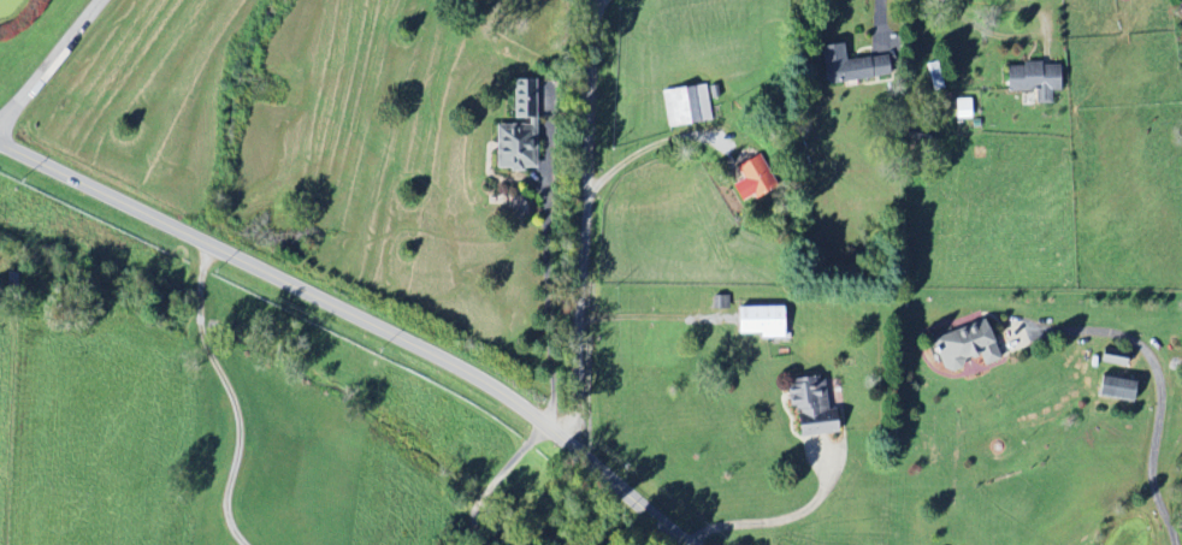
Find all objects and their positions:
road: (49, 58)
building: (845, 69)
building: (1030, 81)
building: (684, 106)
building: (961, 109)
building: (516, 132)
road: (654, 146)
road: (590, 219)
road: (548, 261)
building: (717, 303)
road: (364, 313)
road: (649, 316)
building: (756, 322)
building: (962, 348)
building: (1110, 357)
building: (1113, 389)
road: (232, 391)
road: (1160, 395)
building: (809, 410)
road: (495, 480)
road: (774, 521)

